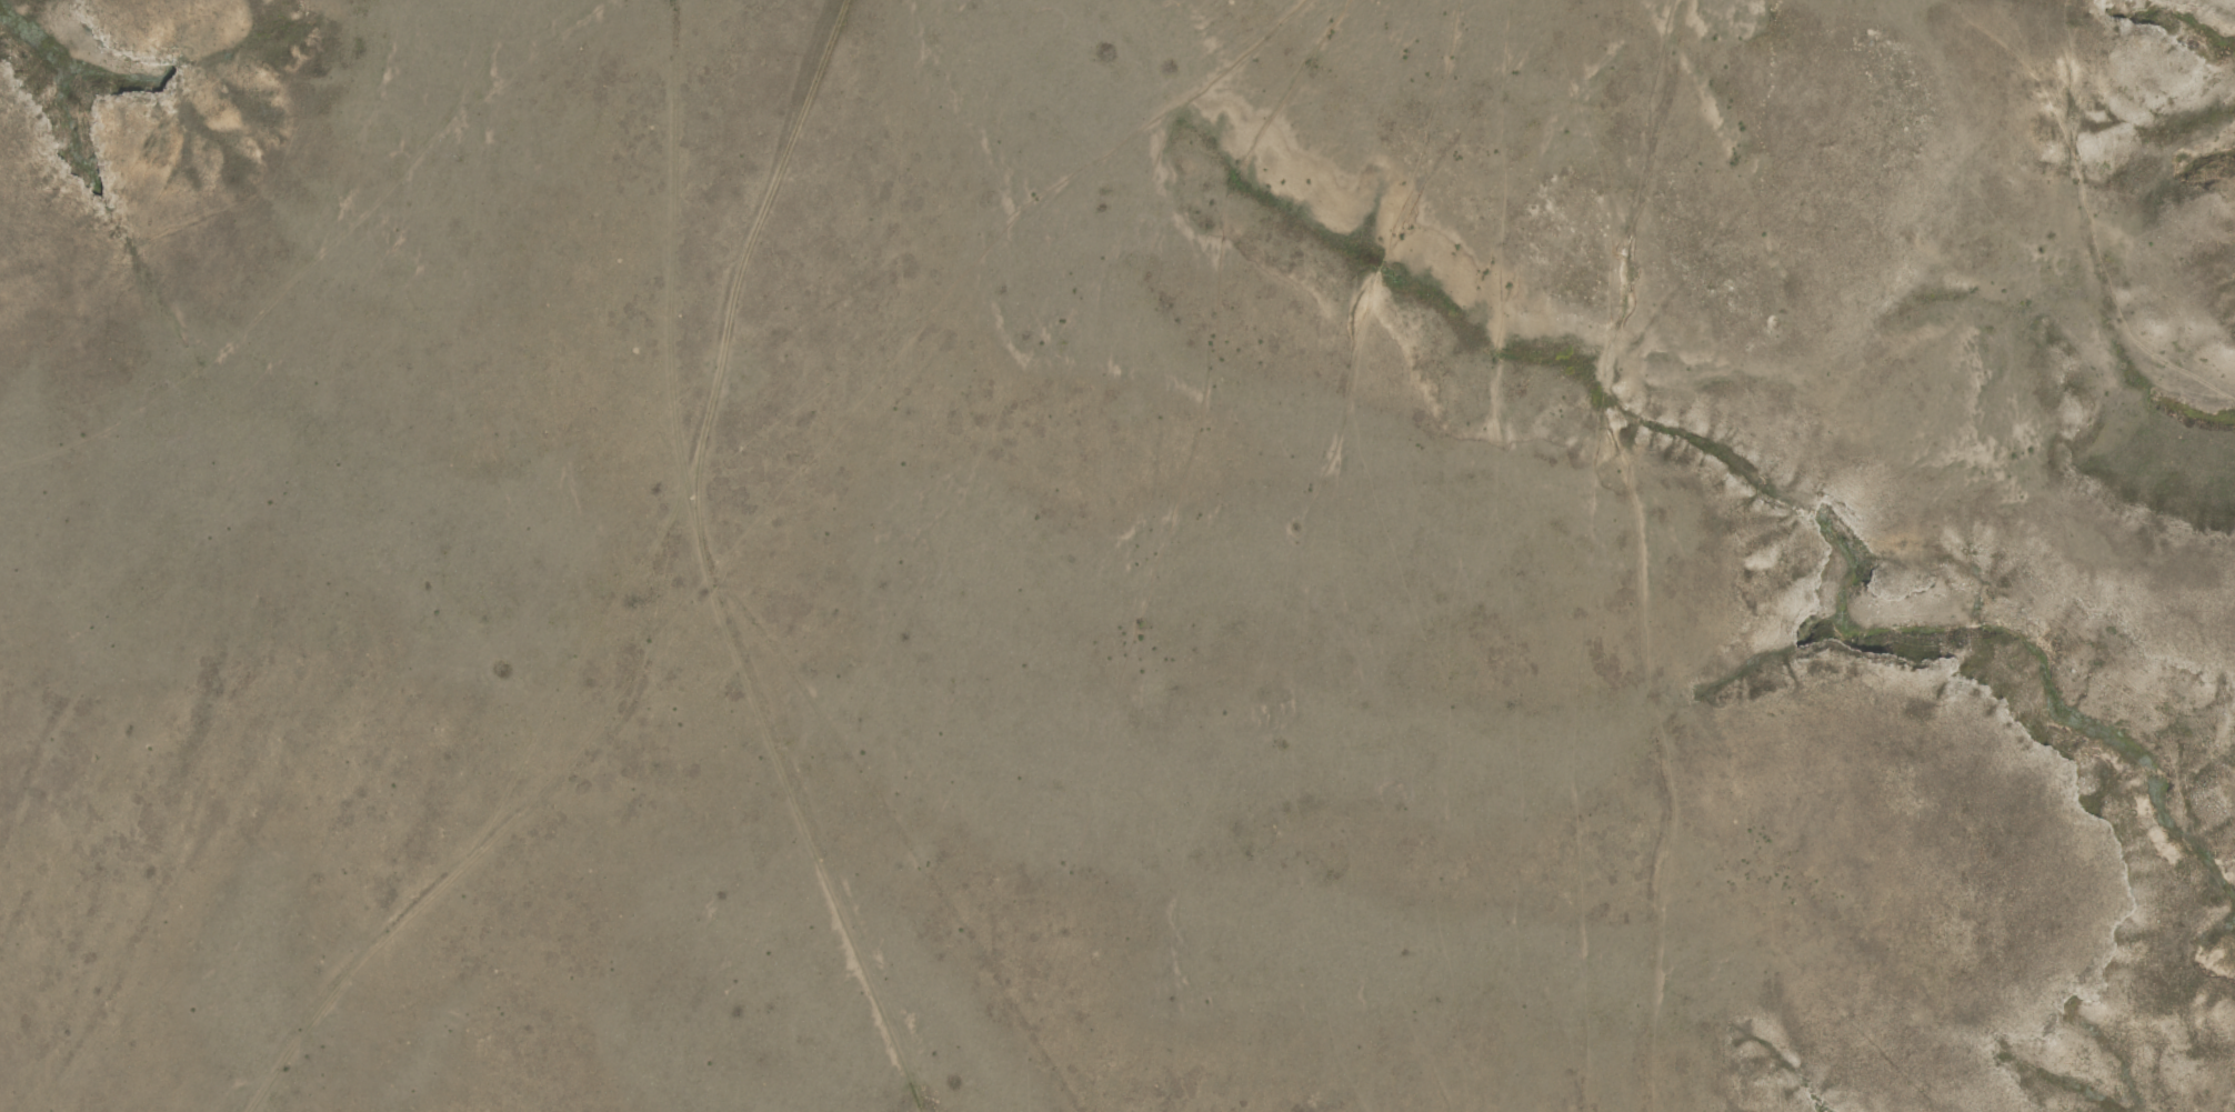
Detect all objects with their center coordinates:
road: (659, 598)

